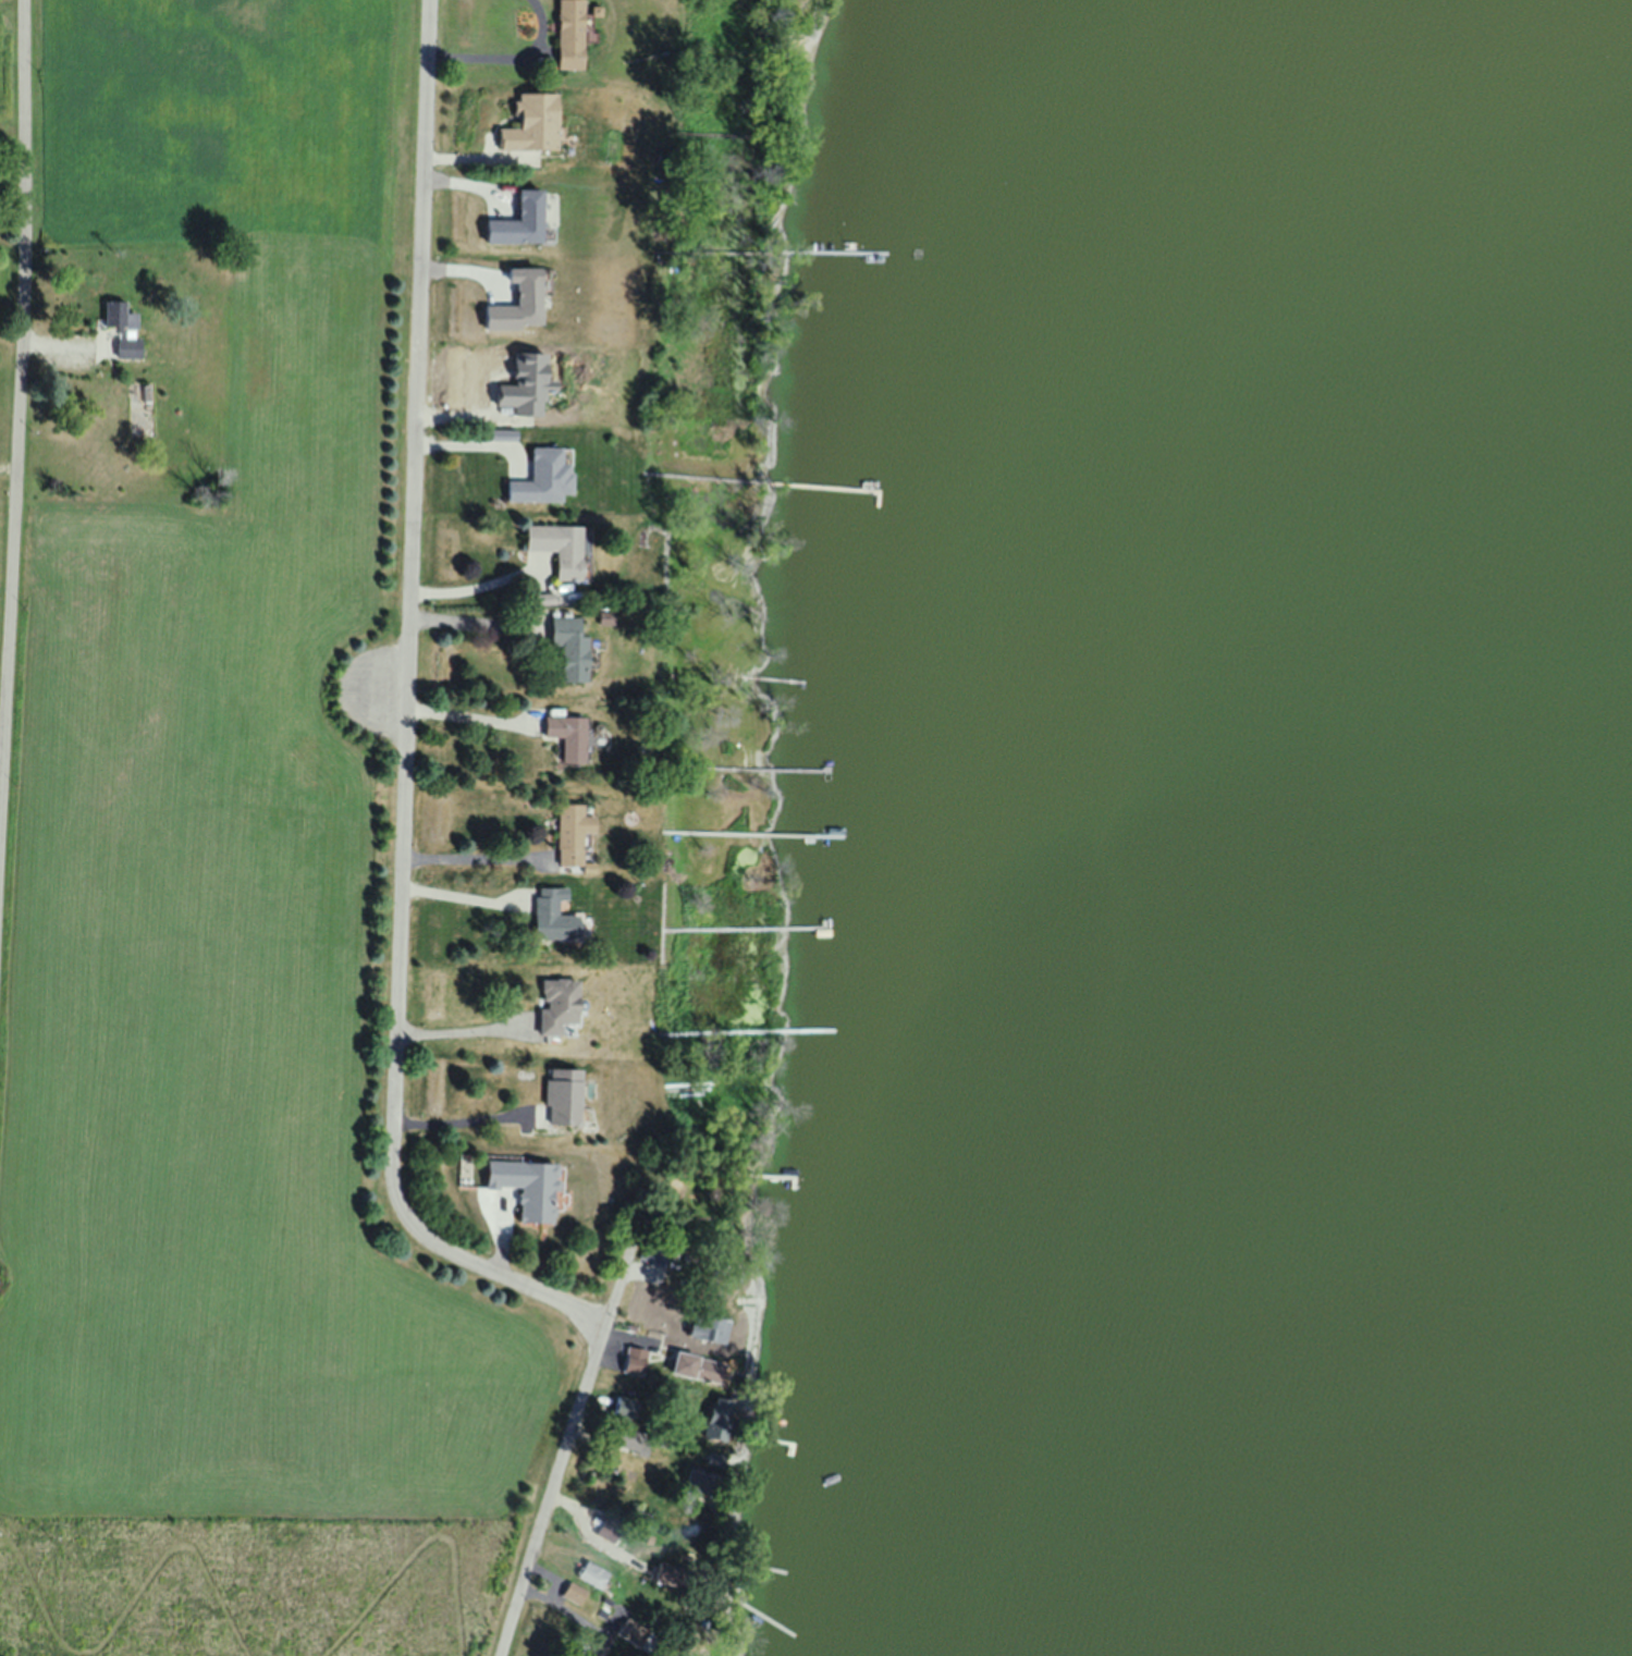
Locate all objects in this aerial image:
building: (566, 34)
road: (507, 53)
building: (528, 123)
road: (14, 218)
building: (512, 221)
building: (512, 303)
building: (114, 316)
building: (125, 347)
road: (22, 438)
road: (473, 443)
building: (540, 477)
building: (555, 547)
road: (471, 587)
road: (471, 620)
building: (566, 648)
road: (468, 717)
road: (405, 727)
building: (565, 736)
building: (568, 833)
road: (464, 857)
road: (461, 894)
building: (550, 916)
building: (554, 1004)
road: (459, 1028)
building: (561, 1095)
road: (470, 1120)
building: (655, 1251)
building: (709, 1329)
building: (634, 1360)
building: (694, 1367)
building: (624, 1408)
building: (630, 1439)
road: (568, 1446)
building: (589, 1574)
park: (254, 1583)
building: (569, 1593)
building: (625, 1630)

